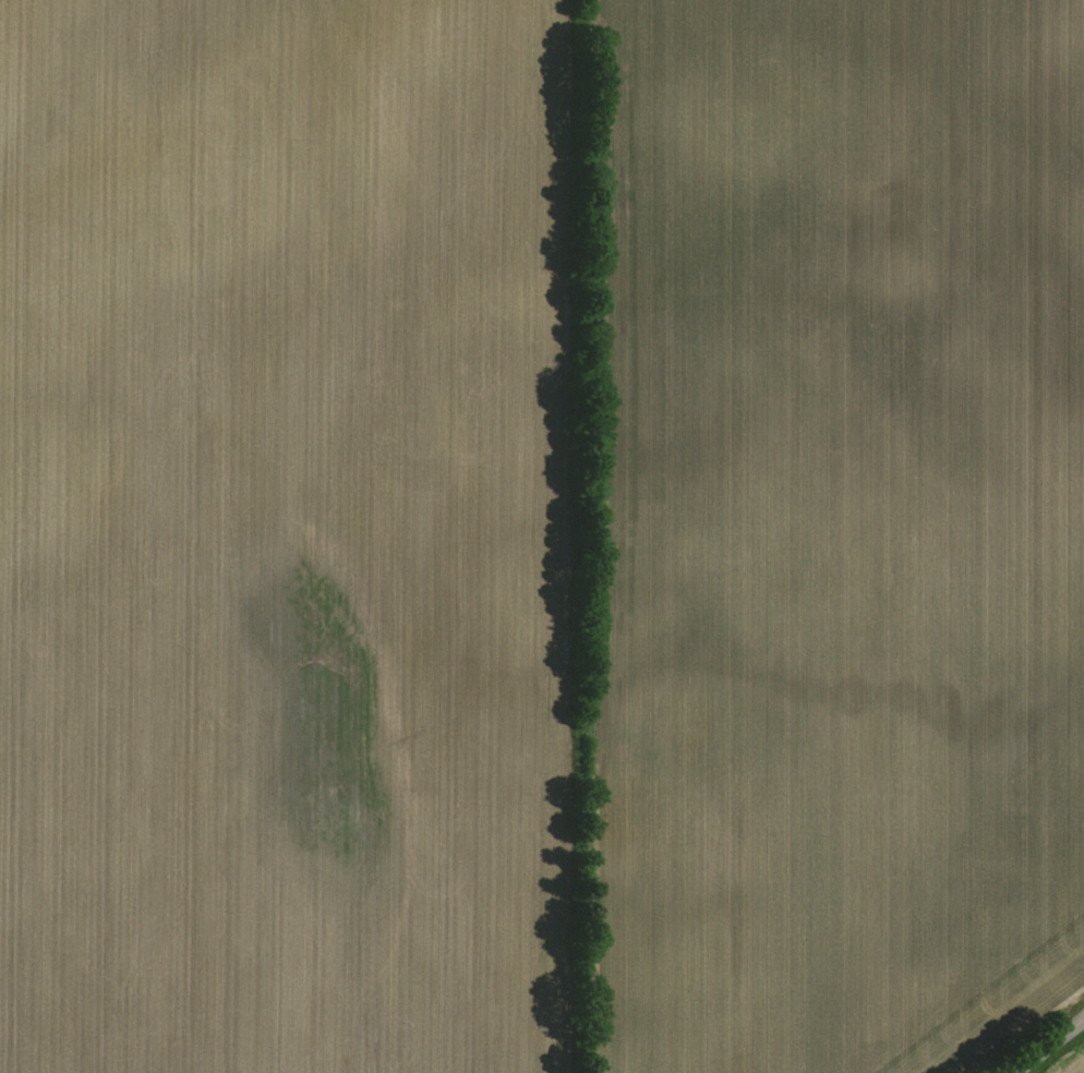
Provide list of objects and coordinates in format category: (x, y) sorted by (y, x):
road: (1047, 1045)

